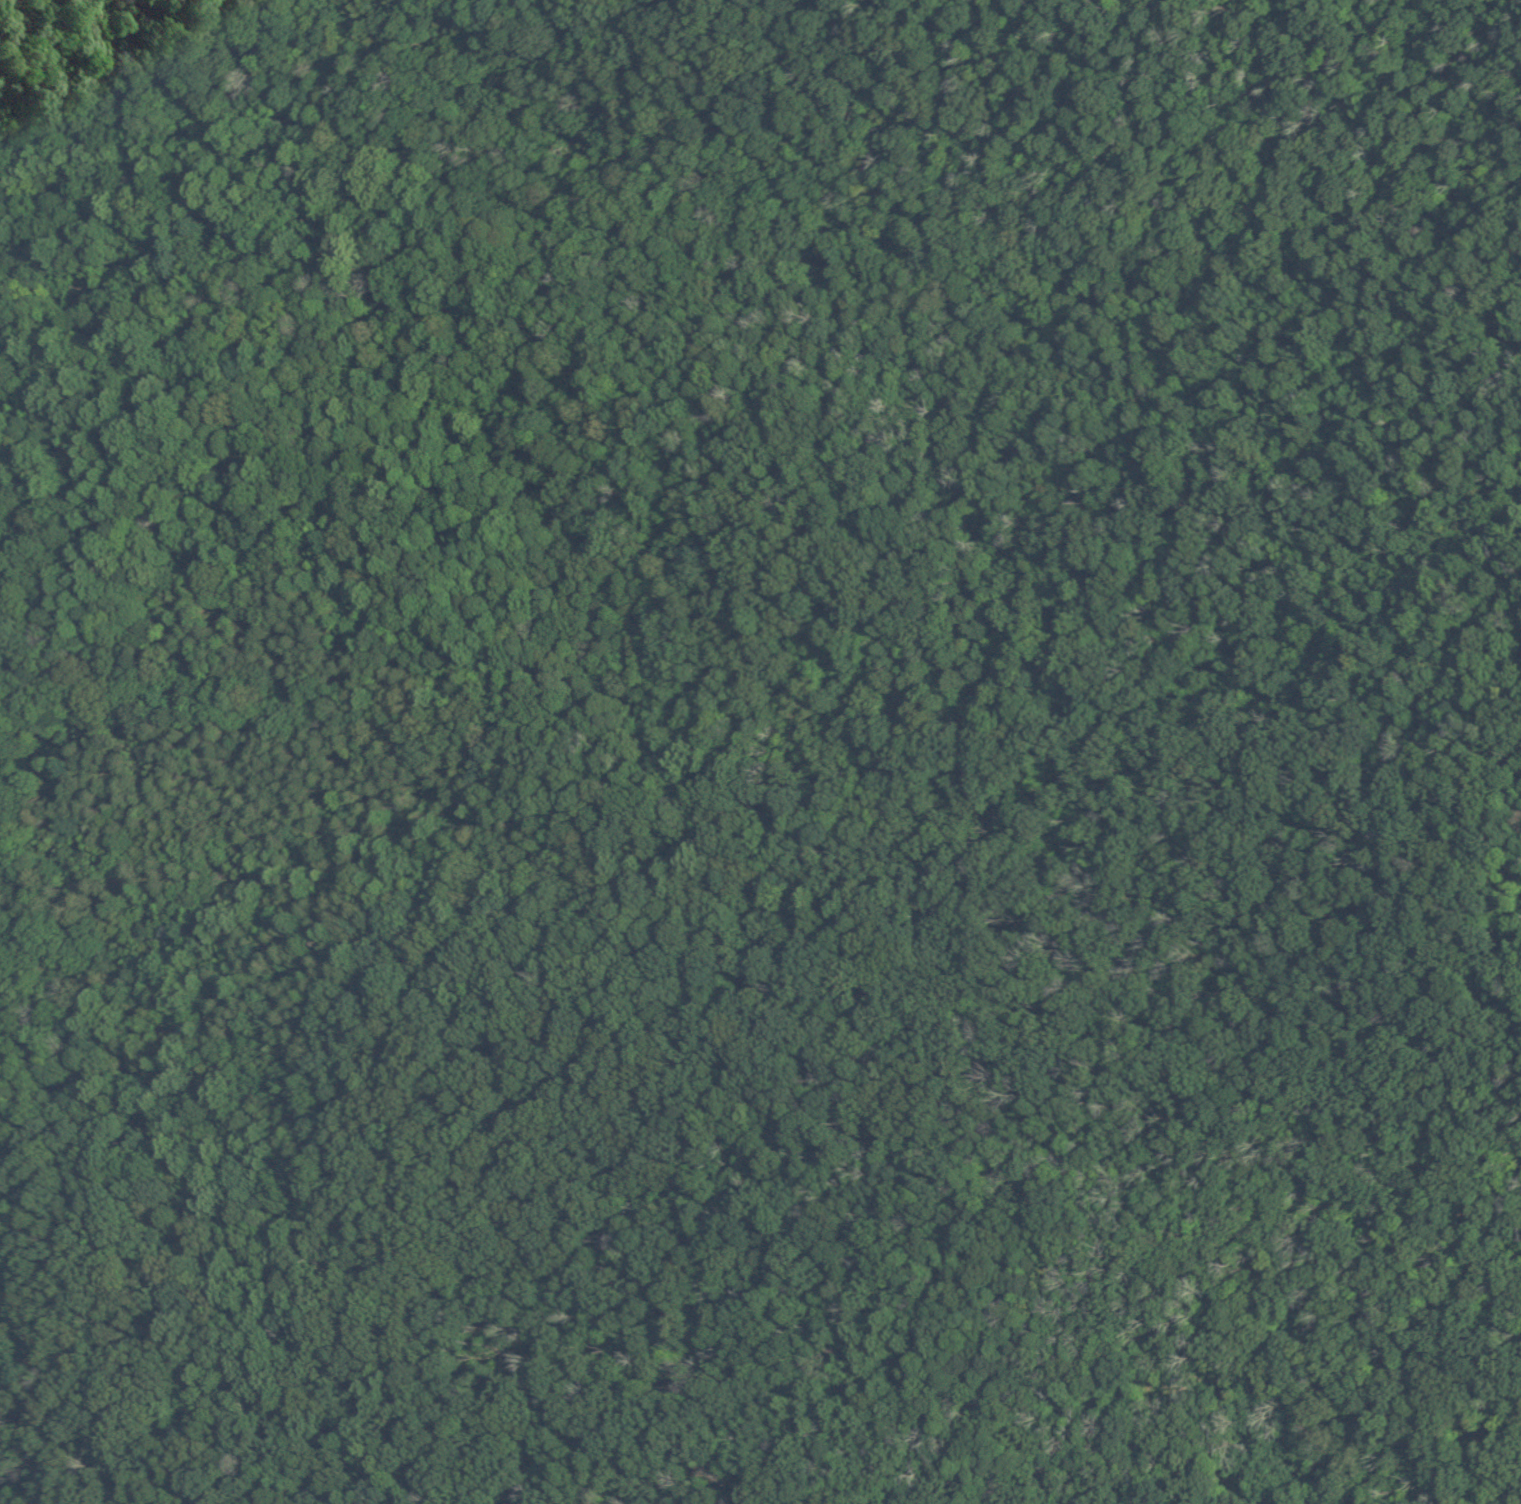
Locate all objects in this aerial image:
park: (760, 752)
road: (54, 1145)
road: (1144, 1189)

